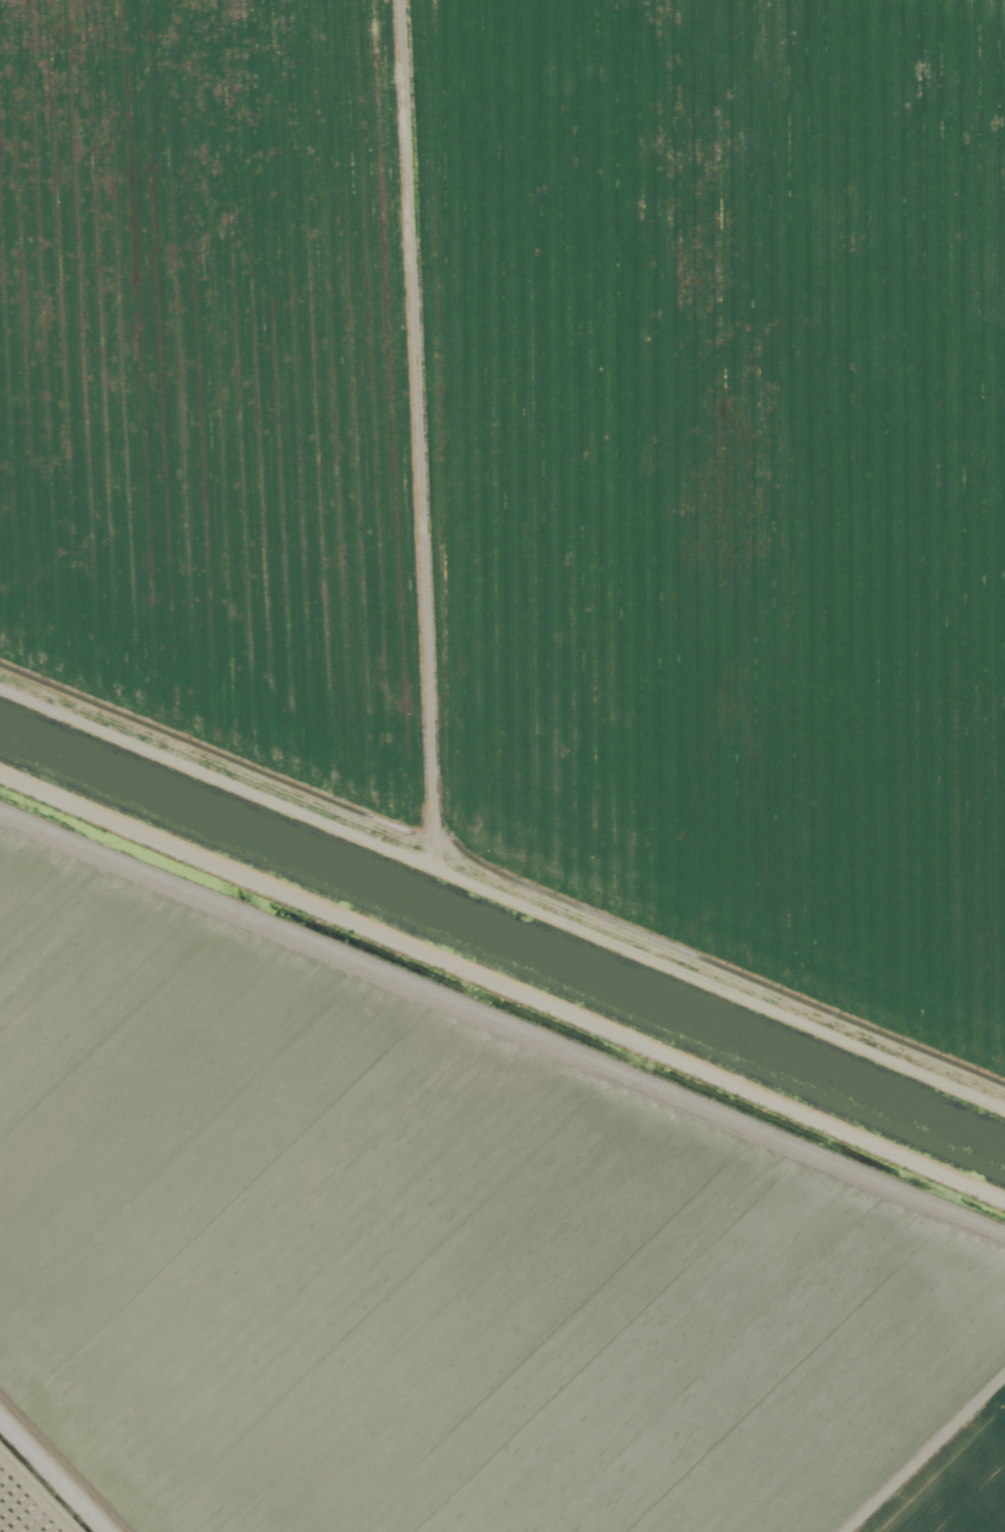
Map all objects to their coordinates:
crop: (541, 457)
road: (457, 697)
road: (227, 708)
crop: (435, 1263)
road: (70, 1457)
crop: (32, 1496)

